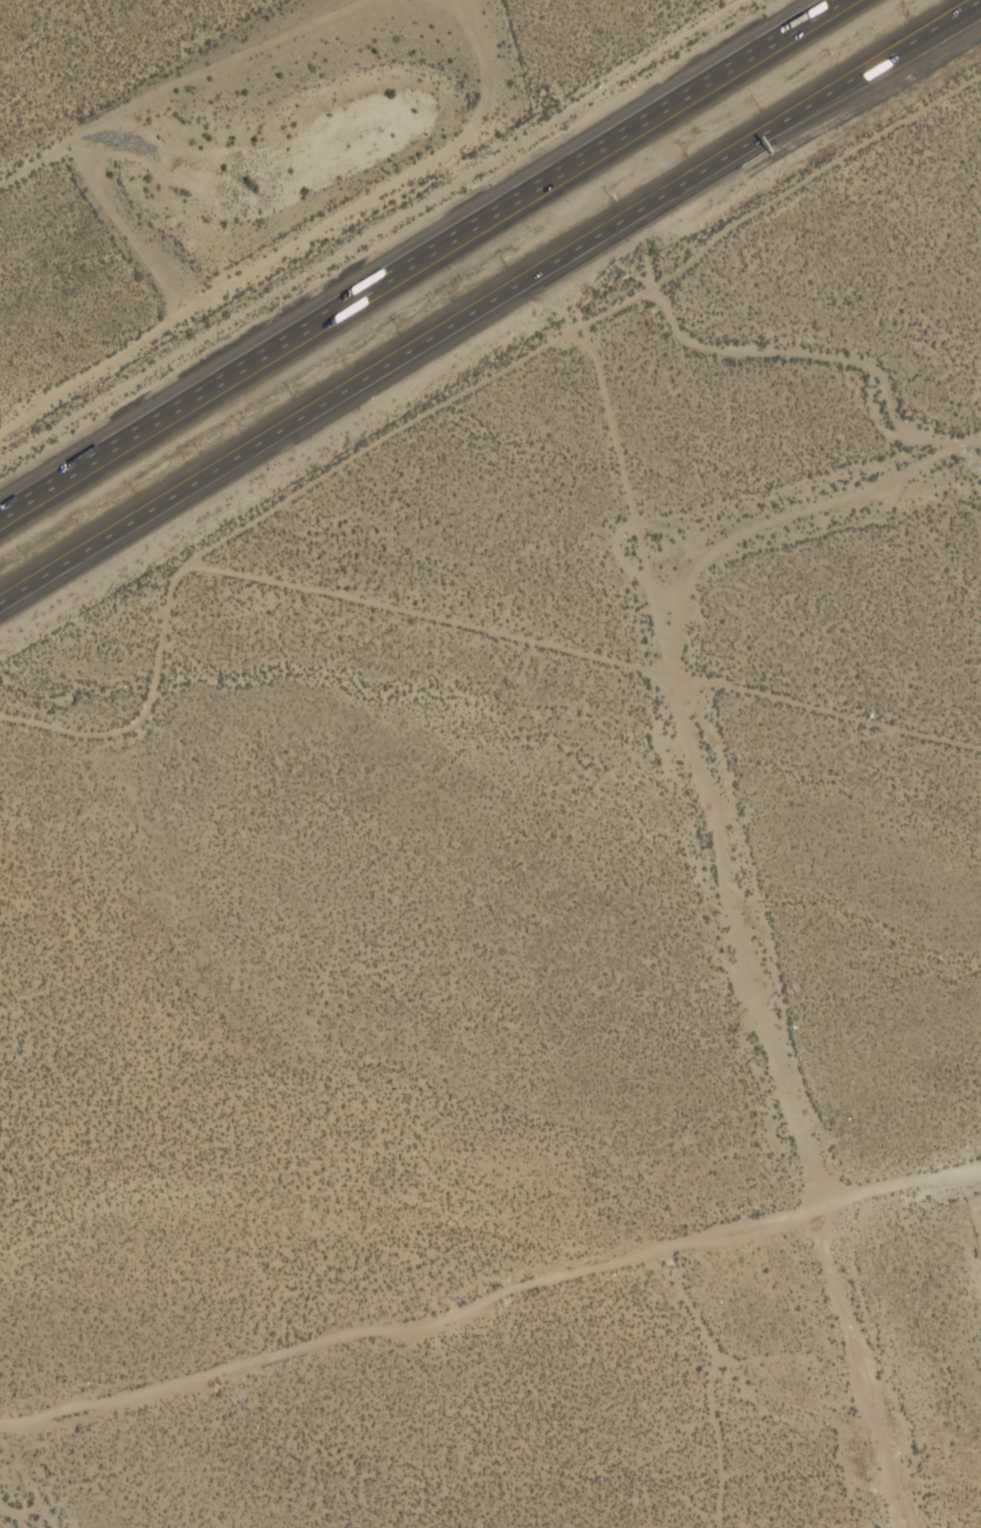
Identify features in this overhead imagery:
road: (939, 26)
road: (670, 103)
road: (715, 162)
road: (252, 360)
road: (267, 436)
road: (490, 1303)

